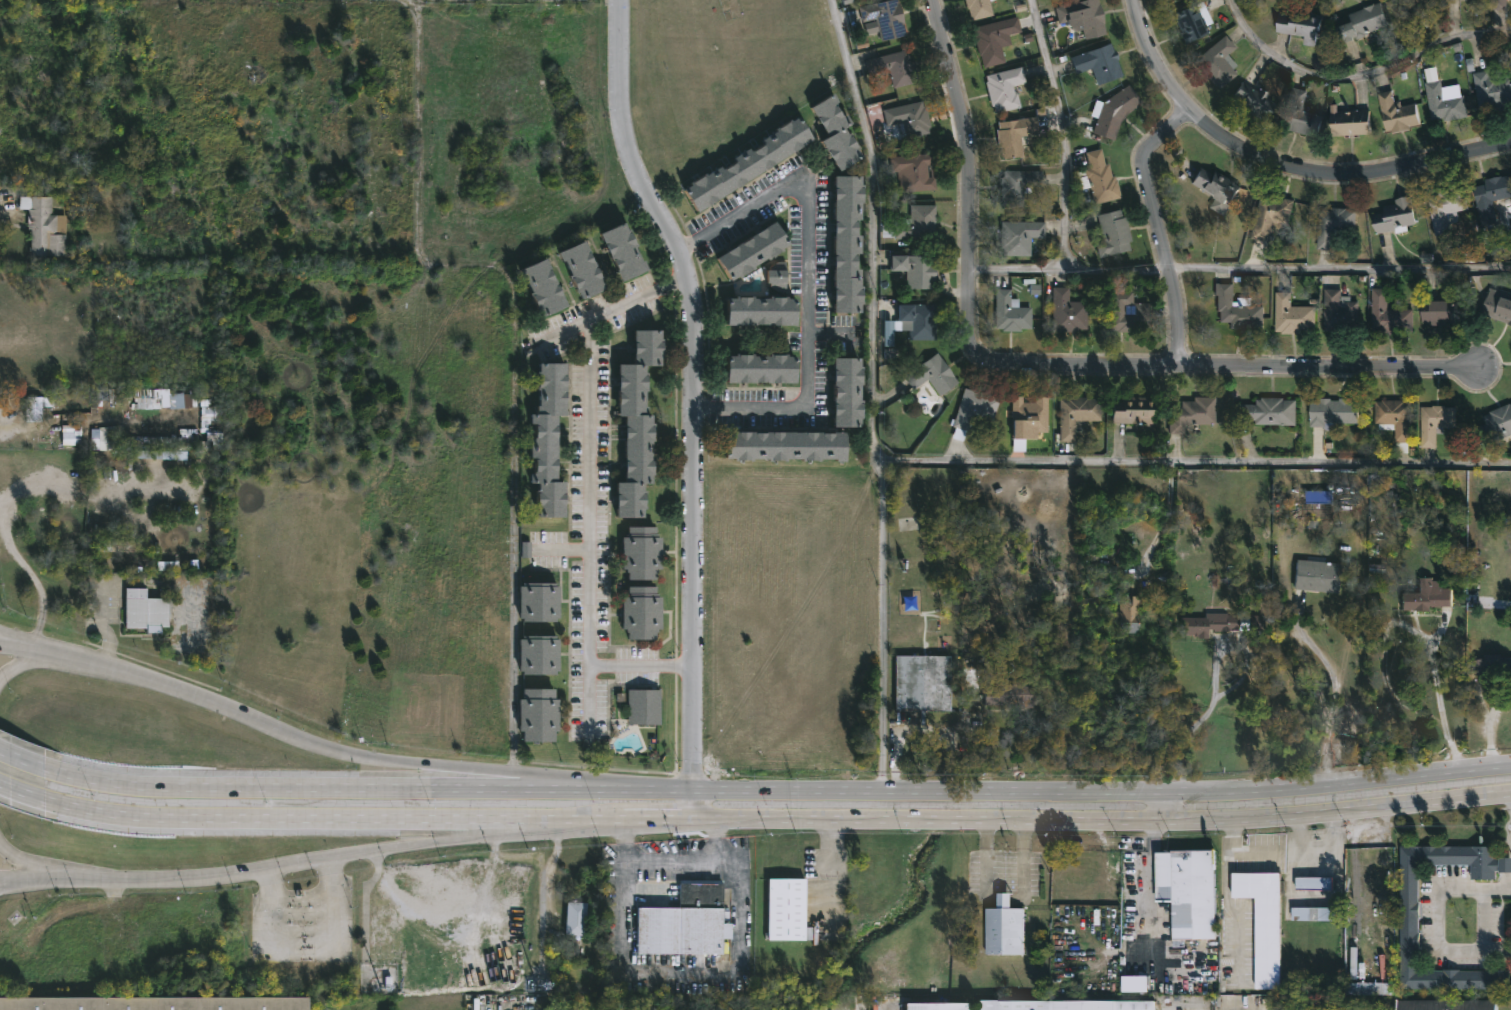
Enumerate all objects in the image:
building: (1497, 4)
building: (981, 8)
building: (886, 17)
building: (1085, 17)
building: (1191, 20)
building: (1359, 21)
building: (1298, 24)
building: (996, 39)
building: (1215, 62)
building: (1100, 63)
building: (895, 67)
road: (1359, 72)
building: (1006, 89)
building: (1491, 89)
building: (1250, 100)
building: (1442, 102)
building: (1116, 110)
building: (1395, 112)
building: (1297, 113)
building: (911, 118)
building: (1347, 120)
building: (835, 132)
building: (1016, 134)
building: (747, 163)
road: (1281, 163)
building: (915, 172)
building: (1101, 178)
road: (1067, 179)
building: (1022, 184)
building: (1214, 187)
building: (1489, 196)
building: (1444, 208)
building: (1268, 213)
building: (1393, 216)
building: (915, 224)
building: (1331, 224)
building: (45, 226)
road: (1157, 227)
building: (1114, 233)
building: (1022, 237)
building: (845, 244)
building: (751, 250)
building: (621, 251)
road: (1116, 268)
building: (915, 269)
road: (1339, 269)
building: (580, 271)
building: (776, 276)
road: (807, 279)
building: (540, 288)
building: (1034, 289)
building: (1497, 305)
building: (1236, 309)
building: (760, 310)
building: (1436, 310)
building: (1337, 311)
building: (1012, 312)
building: (1069, 312)
building: (1128, 312)
building: (1387, 314)
building: (1291, 315)
building: (922, 318)
building: (887, 333)
road: (1045, 363)
building: (759, 369)
building: (933, 375)
road: (694, 386)
building: (846, 392)
building: (167, 399)
building: (37, 407)
building: (974, 410)
building: (1135, 410)
building: (1266, 411)
building: (1330, 411)
building: (1190, 414)
building: (1079, 415)
road: (69, 419)
building: (1029, 420)
building: (1392, 420)
building: (1433, 421)
building: (635, 424)
building: (1494, 424)
building: (103, 439)
building: (547, 441)
building: (784, 446)
road: (961, 463)
road: (589, 490)
road: (1166, 518)
building: (640, 554)
building: (1314, 576)
building: (1095, 589)
building: (1424, 596)
building: (538, 603)
building: (1131, 608)
building: (145, 612)
building: (640, 615)
building: (1204, 624)
road: (884, 628)
road: (3, 640)
road: (3, 642)
building: (537, 655)
road: (40, 660)
building: (1034, 664)
building: (1493, 664)
building: (922, 683)
road: (1336, 690)
building: (1017, 694)
building: (642, 706)
road: (1440, 706)
building: (537, 713)
road: (322, 747)
road: (35, 765)
road: (1336, 779)
road: (362, 786)
road: (672, 788)
road: (926, 790)
road: (27, 796)
road: (692, 803)
road: (1370, 803)
road: (1161, 804)
road: (1196, 816)
road: (615, 818)
road: (658, 818)
road: (704, 818)
road: (939, 818)
road: (329, 822)
road: (1230, 833)
road: (718, 839)
road: (1317, 844)
road: (1255, 852)
road: (677, 859)
road: (986, 862)
road: (1021, 862)
road: (323, 865)
road: (34, 866)
road: (19, 879)
building: (1311, 881)
road: (18, 882)
road: (1498, 888)
building: (1185, 893)
road: (1004, 900)
building: (789, 908)
building: (1311, 912)
road: (1235, 916)
building: (578, 917)
building: (688, 921)
building: (1263, 921)
building: (1407, 923)
building: (1002, 925)
road: (1439, 948)
road: (665, 973)
building: (1135, 983)
building: (155, 1003)
building: (1445, 1003)
building: (1065, 1004)
building: (936, 1006)

